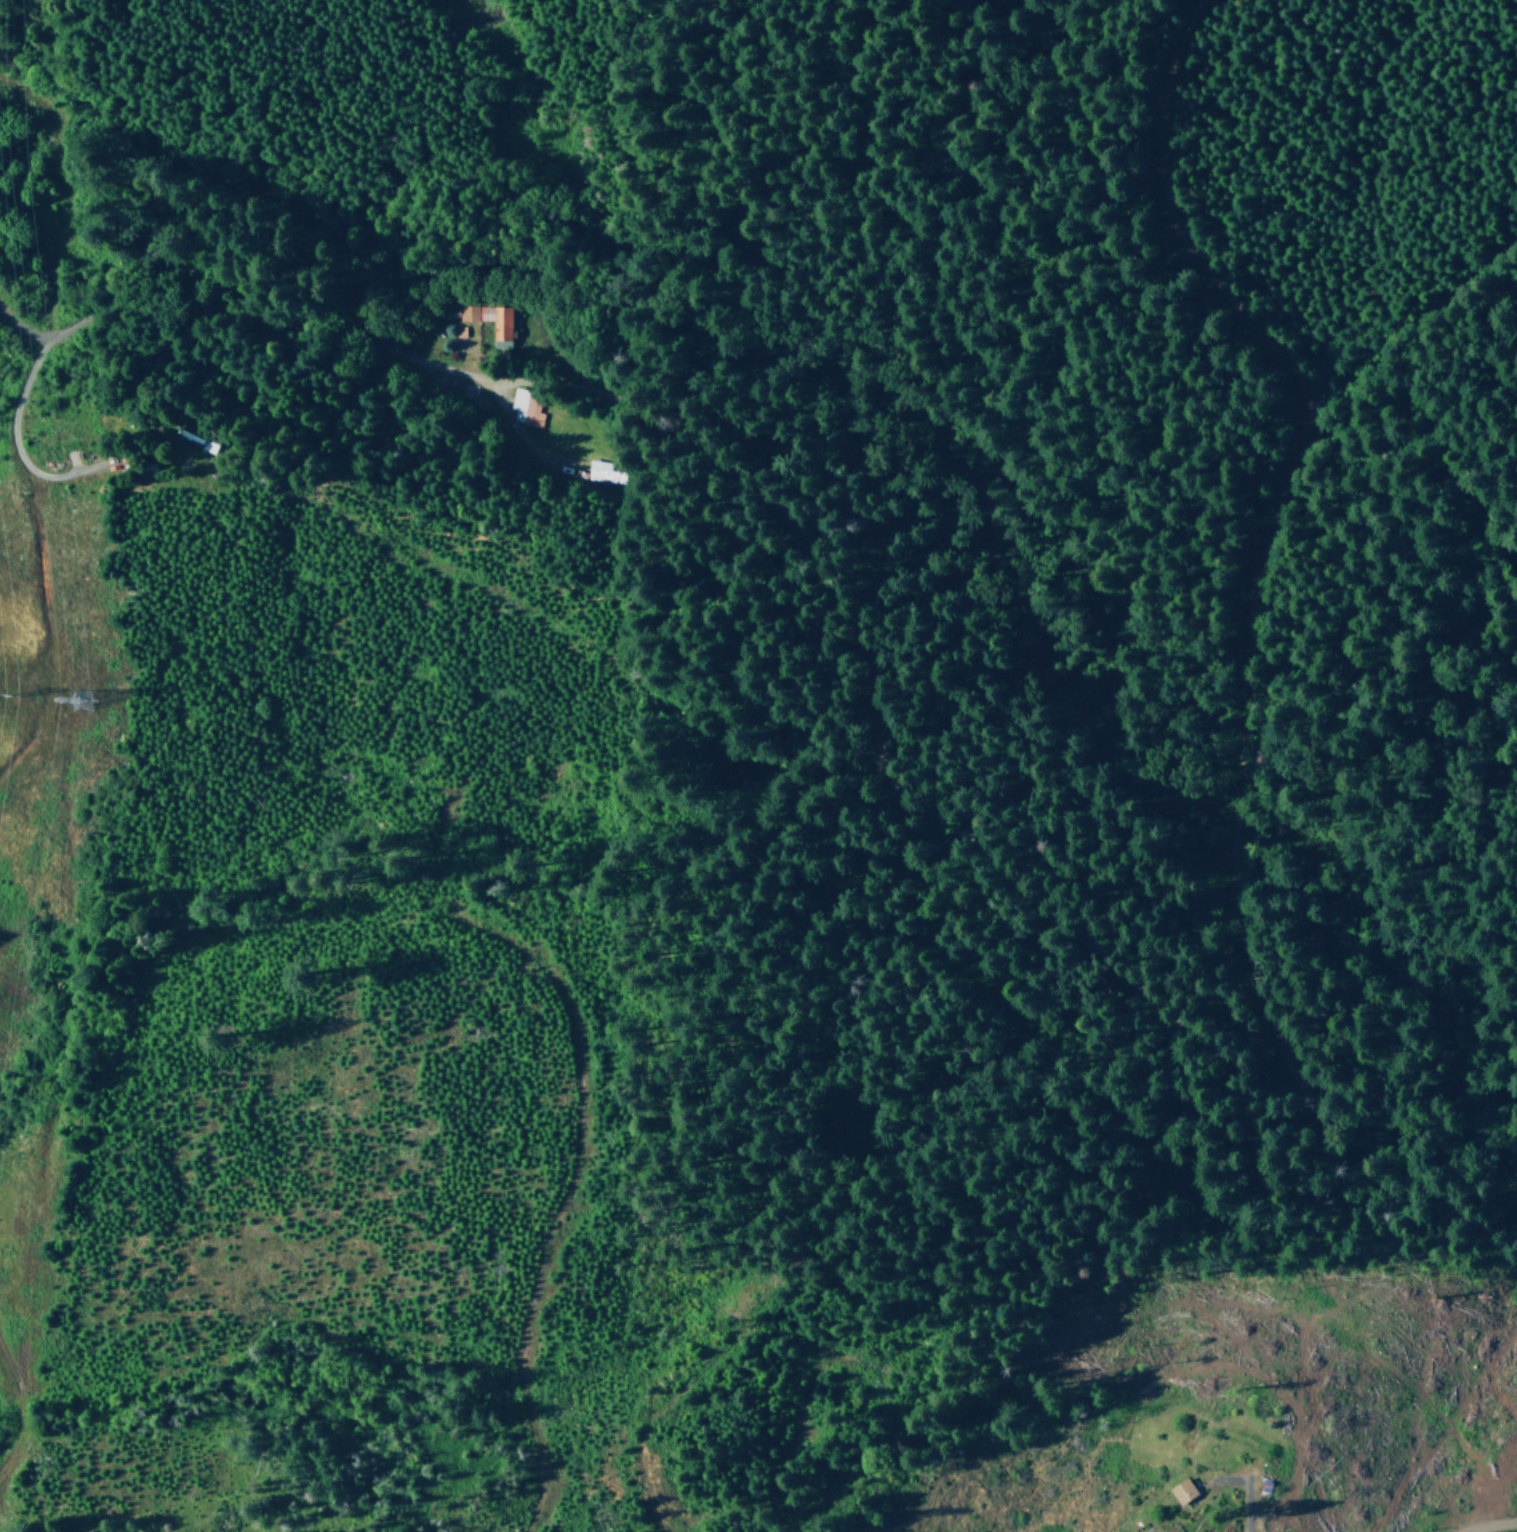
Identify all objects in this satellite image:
building: (485, 320)
building: (525, 406)
building: (193, 439)
building: (601, 471)
power tower: (76, 700)
road: (844, 747)
building: (1182, 1491)

